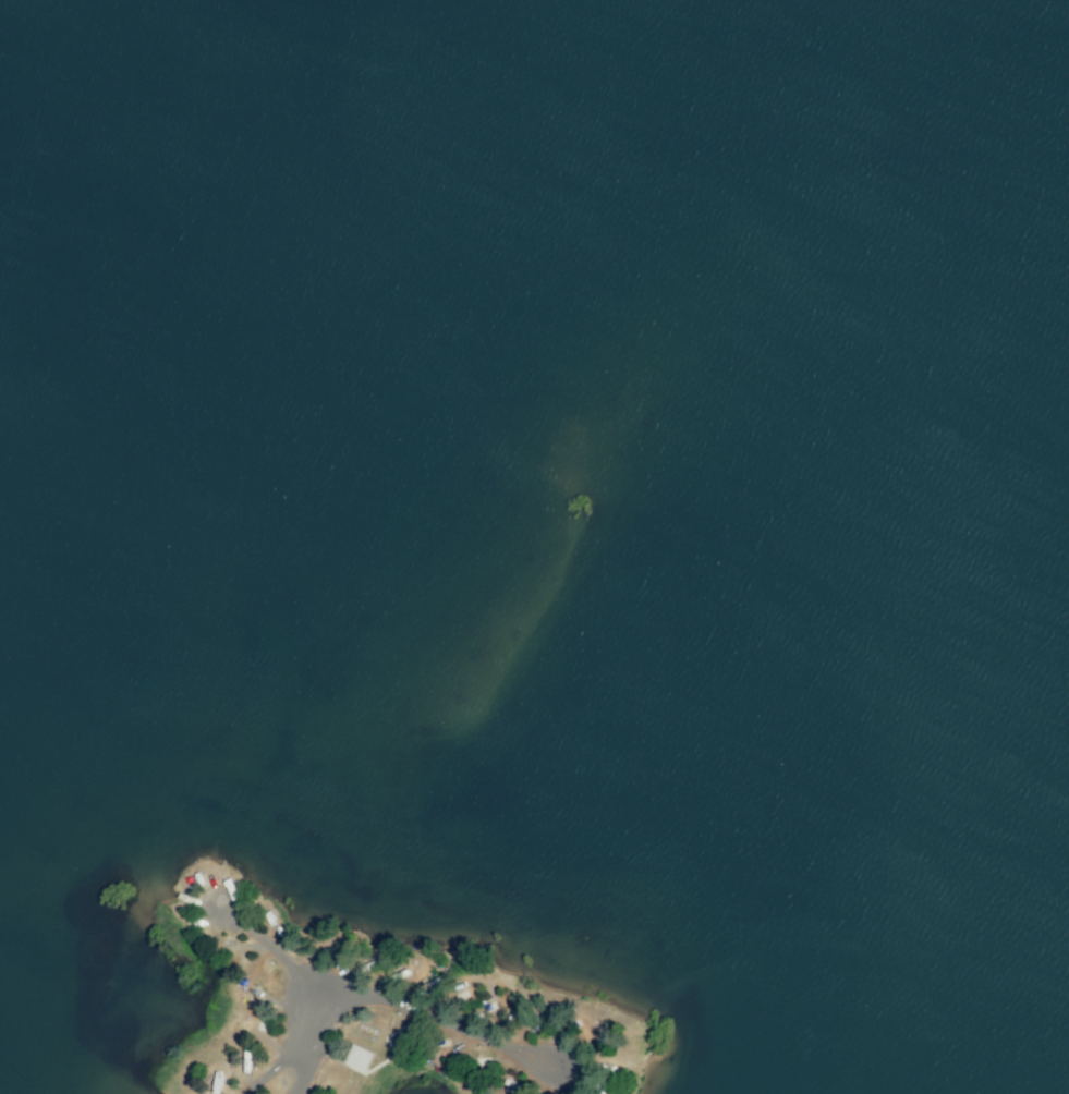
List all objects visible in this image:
road: (495, 1042)
road: (311, 1046)
building: (357, 1058)

